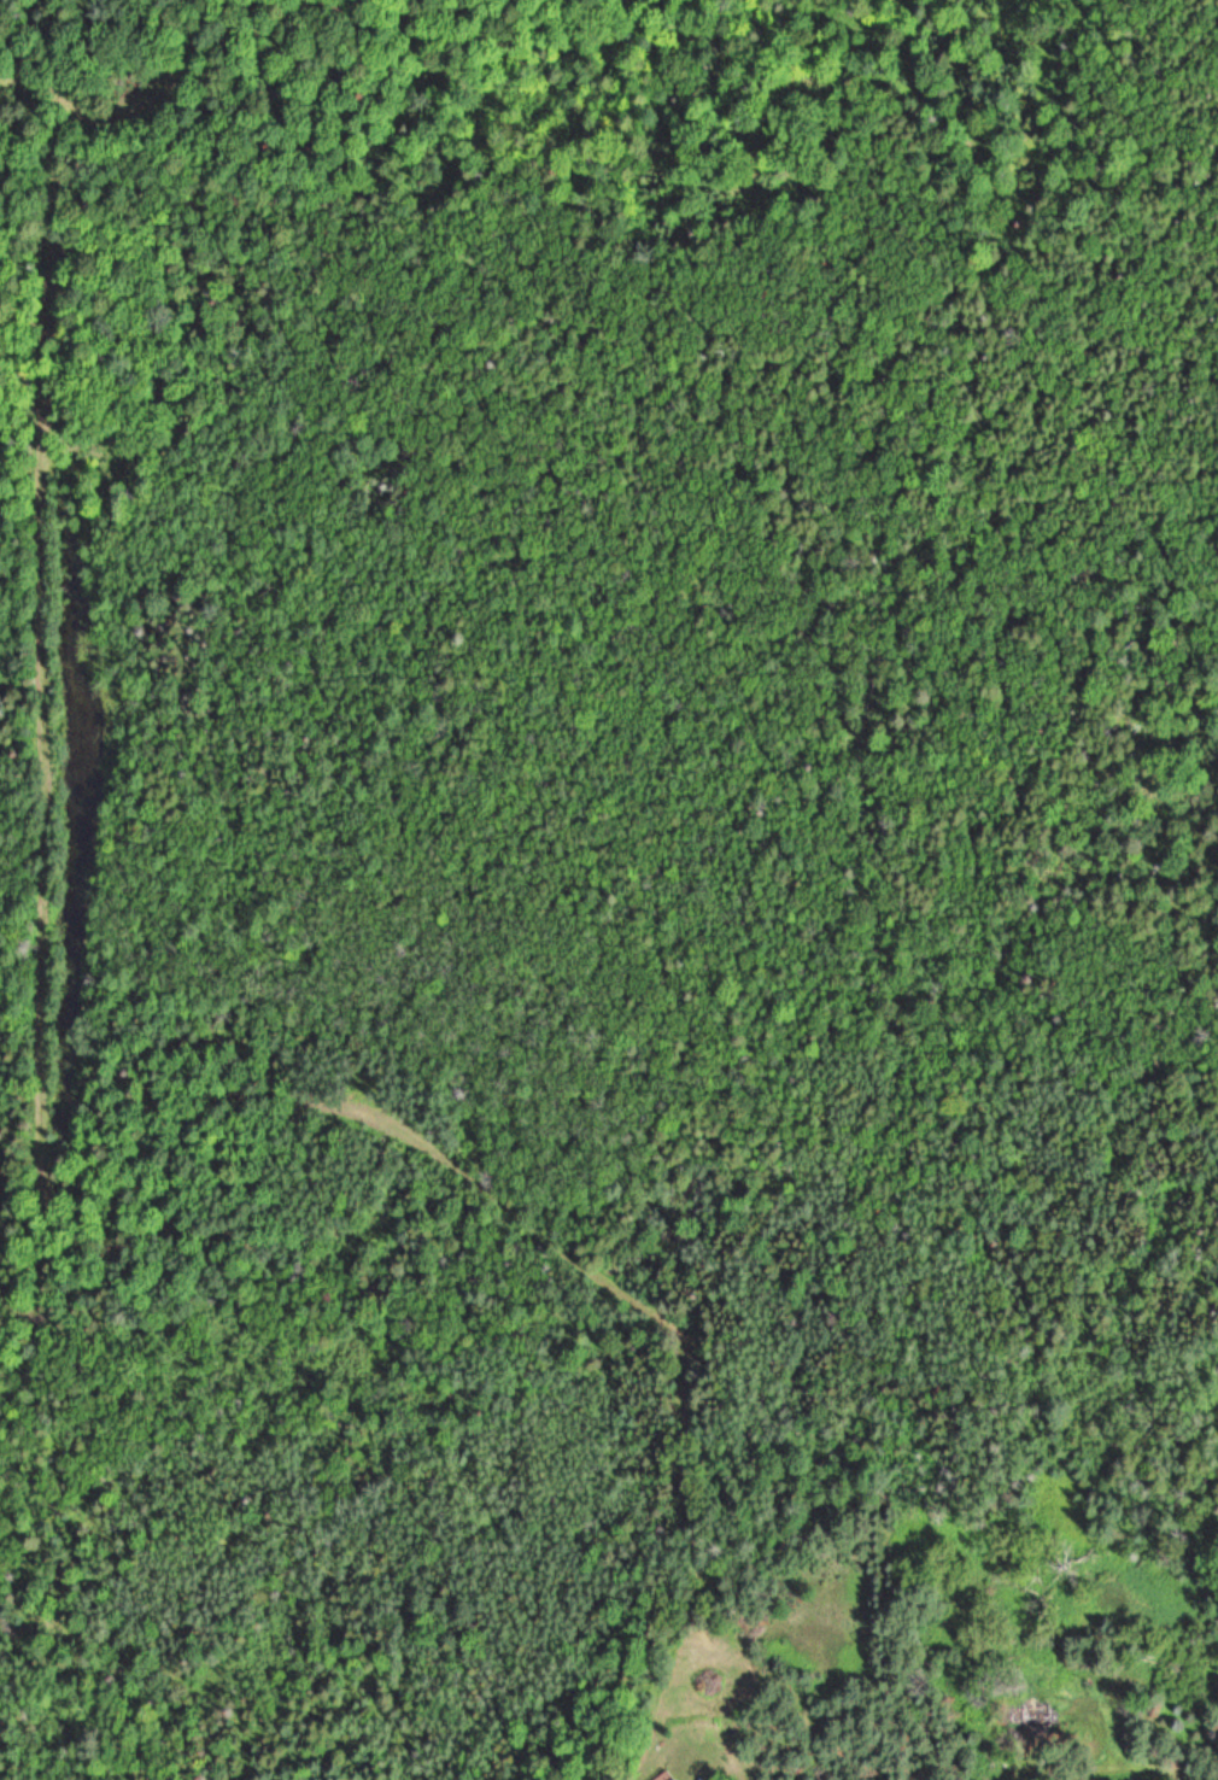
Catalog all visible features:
road: (1141, 1766)

